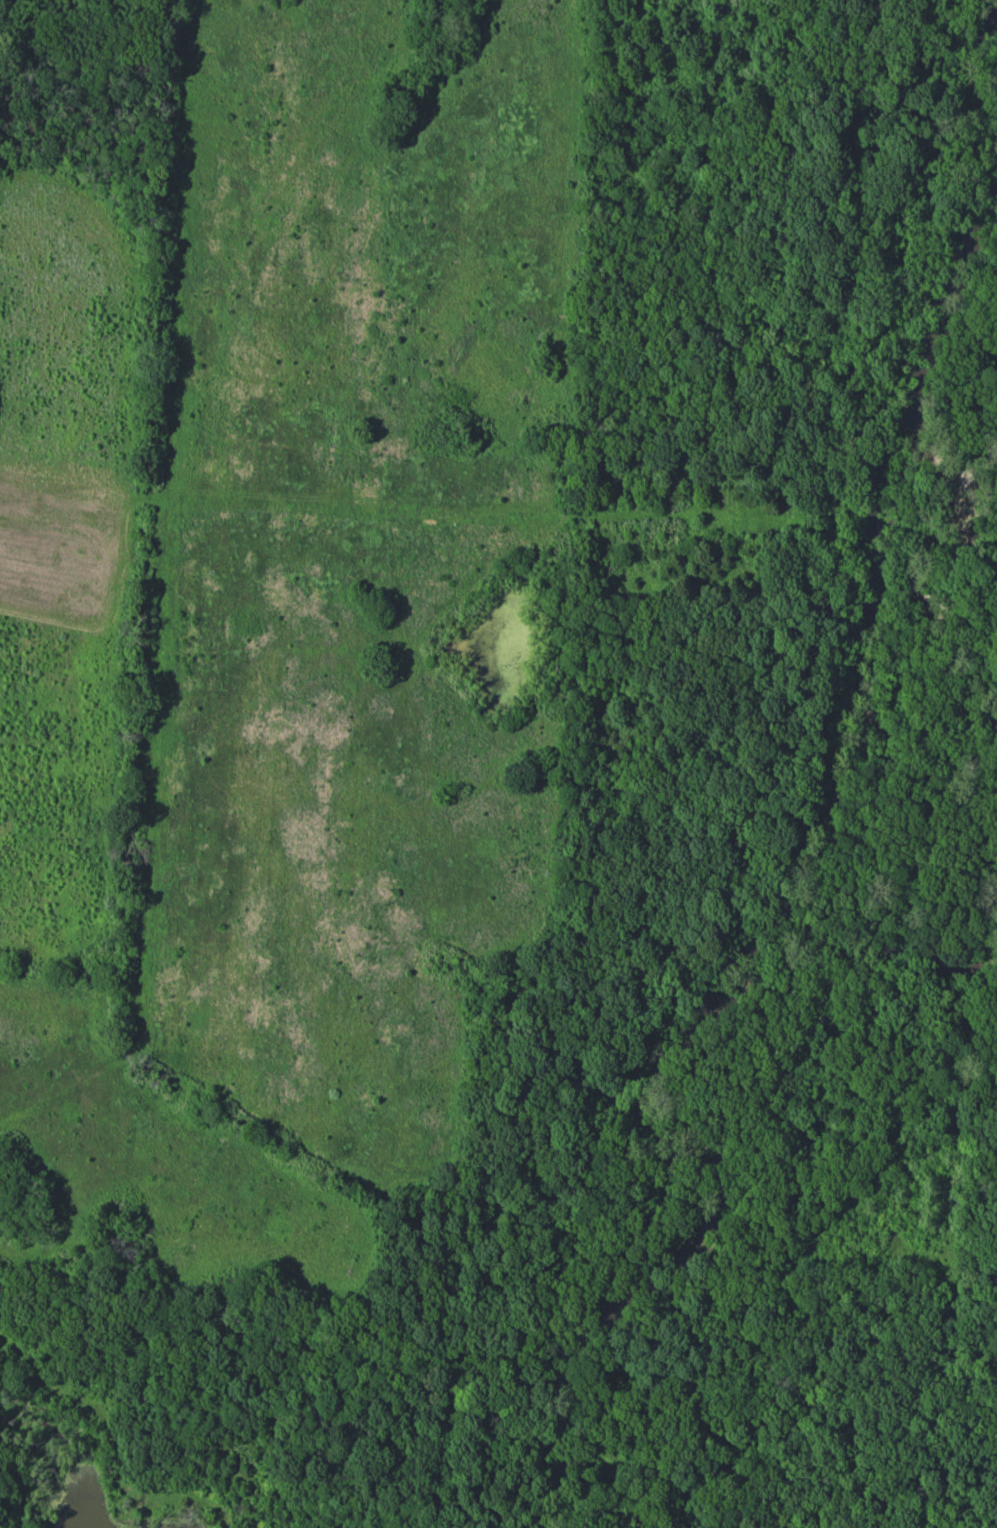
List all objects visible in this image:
park: (498, 764)

